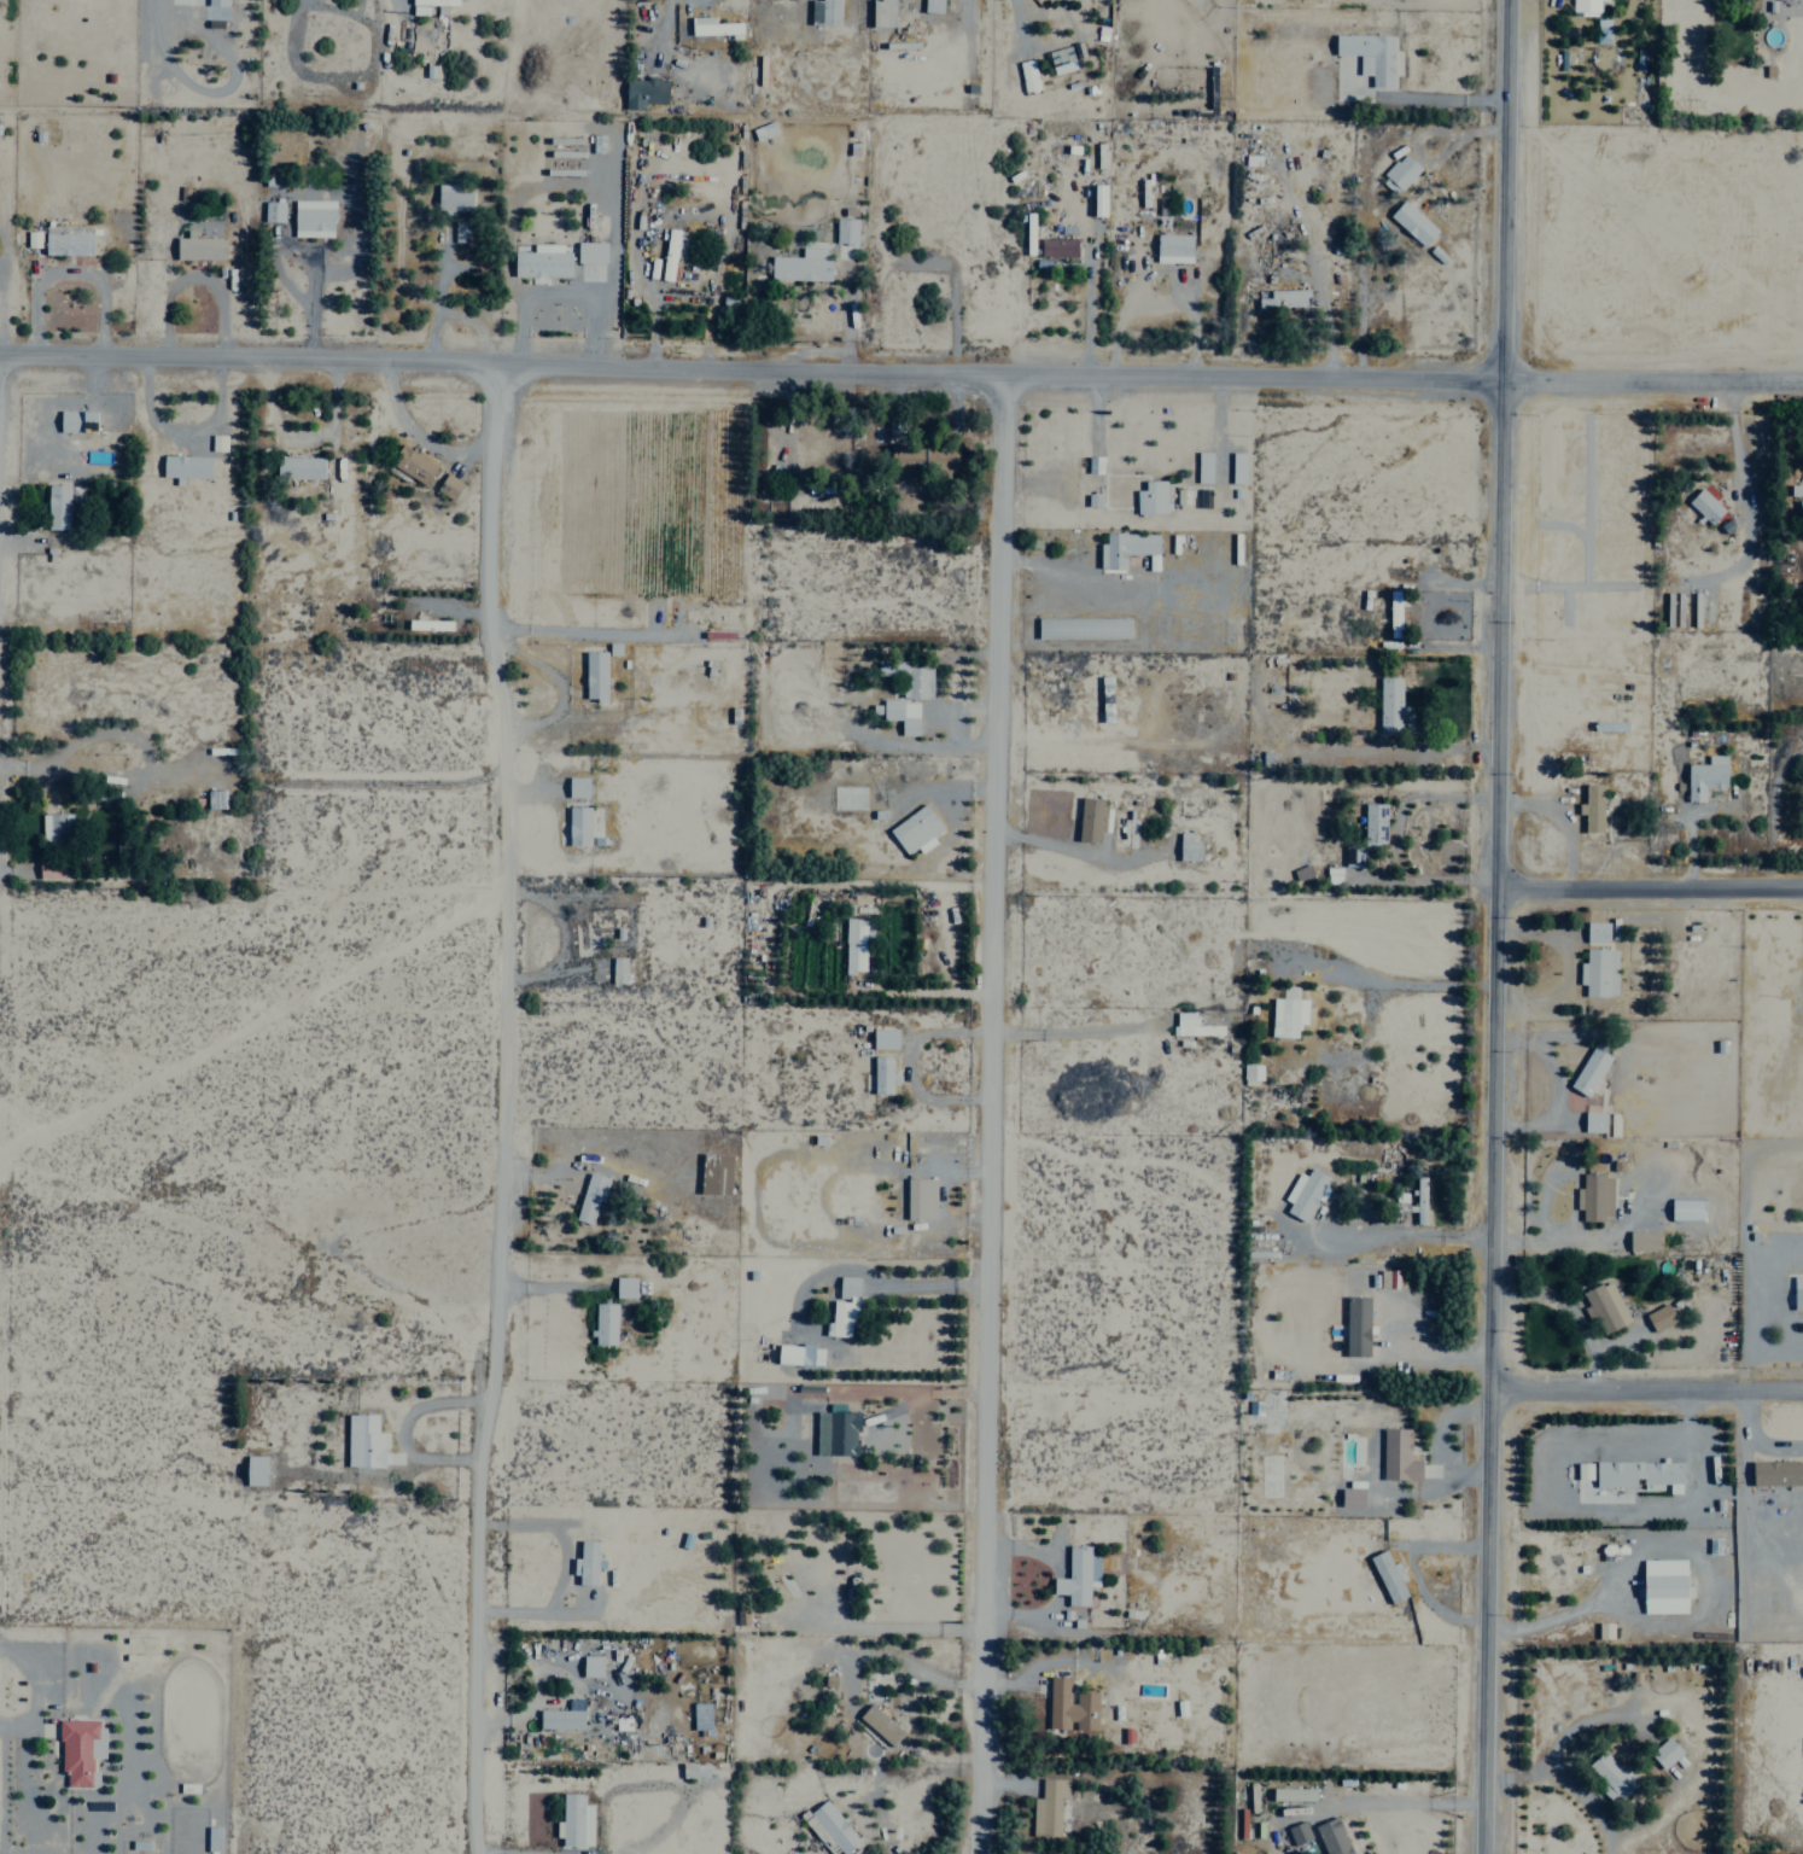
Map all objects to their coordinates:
building: (198, 1)
building: (932, 6)
building: (1585, 7)
building: (823, 12)
building: (882, 12)
building: (712, 25)
building: (1601, 30)
building: (1381, 70)
building: (1026, 75)
building: (643, 92)
building: (763, 130)
building: (1399, 174)
building: (451, 198)
building: (1097, 199)
building: (272, 211)
building: (313, 217)
building: (1412, 222)
building: (460, 231)
building: (845, 231)
building: (31, 238)
building: (66, 239)
building: (198, 246)
building: (1056, 246)
building: (1172, 247)
building: (590, 252)
building: (671, 252)
building: (542, 261)
building: (801, 266)
building: (1283, 298)
road: (900, 367)
building: (76, 421)
building: (216, 442)
building: (410, 465)
building: (185, 466)
building: (1202, 466)
building: (298, 467)
building: (1237, 467)
building: (448, 486)
building: (1795, 490)
building: (1150, 497)
building: (1093, 500)
building: (1704, 506)
building: (57, 507)
building: (1125, 548)
building: (1393, 613)
building: (1083, 626)
building: (594, 675)
building: (908, 677)
building: (1104, 686)
building: (1389, 705)
building: (898, 713)
building: (1705, 777)
building: (577, 787)
building: (1592, 809)
building: (1091, 820)
building: (1373, 823)
building: (577, 826)
building: (54, 829)
building: (915, 830)
building: (1186, 846)
building: (1353, 856)
building: (49, 868)
building: (1301, 871)
building: (1332, 875)
road: (1649, 886)
road: (1493, 926)
building: (1595, 932)
building: (856, 943)
building: (617, 970)
building: (1598, 973)
building: (1286, 1013)
building: (1192, 1026)
building: (883, 1038)
building: (1588, 1072)
building: (881, 1074)
building: (1250, 1074)
road: (501, 1106)
road: (986, 1112)
building: (1592, 1121)
building: (714, 1174)
building: (1305, 1193)
building: (1594, 1196)
building: (589, 1199)
building: (920, 1199)
building: (1419, 1200)
building: (1685, 1209)
building: (1642, 1241)
building: (624, 1287)
building: (1797, 1293)
building: (844, 1308)
building: (1604, 1308)
building: (1659, 1318)
building: (603, 1324)
building: (1356, 1327)
building: (798, 1355)
road: (1645, 1382)
building: (835, 1433)
building: (363, 1440)
building: (1398, 1454)
building: (255, 1469)
building: (1582, 1470)
building: (1776, 1471)
building: (1638, 1474)
building: (1350, 1497)
building: (585, 1562)
building: (1076, 1575)
building: (1388, 1575)
building: (1663, 1585)
building: (741, 1614)
building: (1604, 1629)
building: (591, 1666)
building: (1069, 1706)
building: (562, 1715)
building: (701, 1716)
building: (880, 1724)
building: (80, 1750)
building: (1664, 1753)
building: (695, 1770)
building: (1610, 1774)
building: (1293, 1794)
building: (1048, 1807)
building: (576, 1820)
building: (833, 1826)
building: (1297, 1832)
building: (1331, 1836)
building: (211, 1838)

